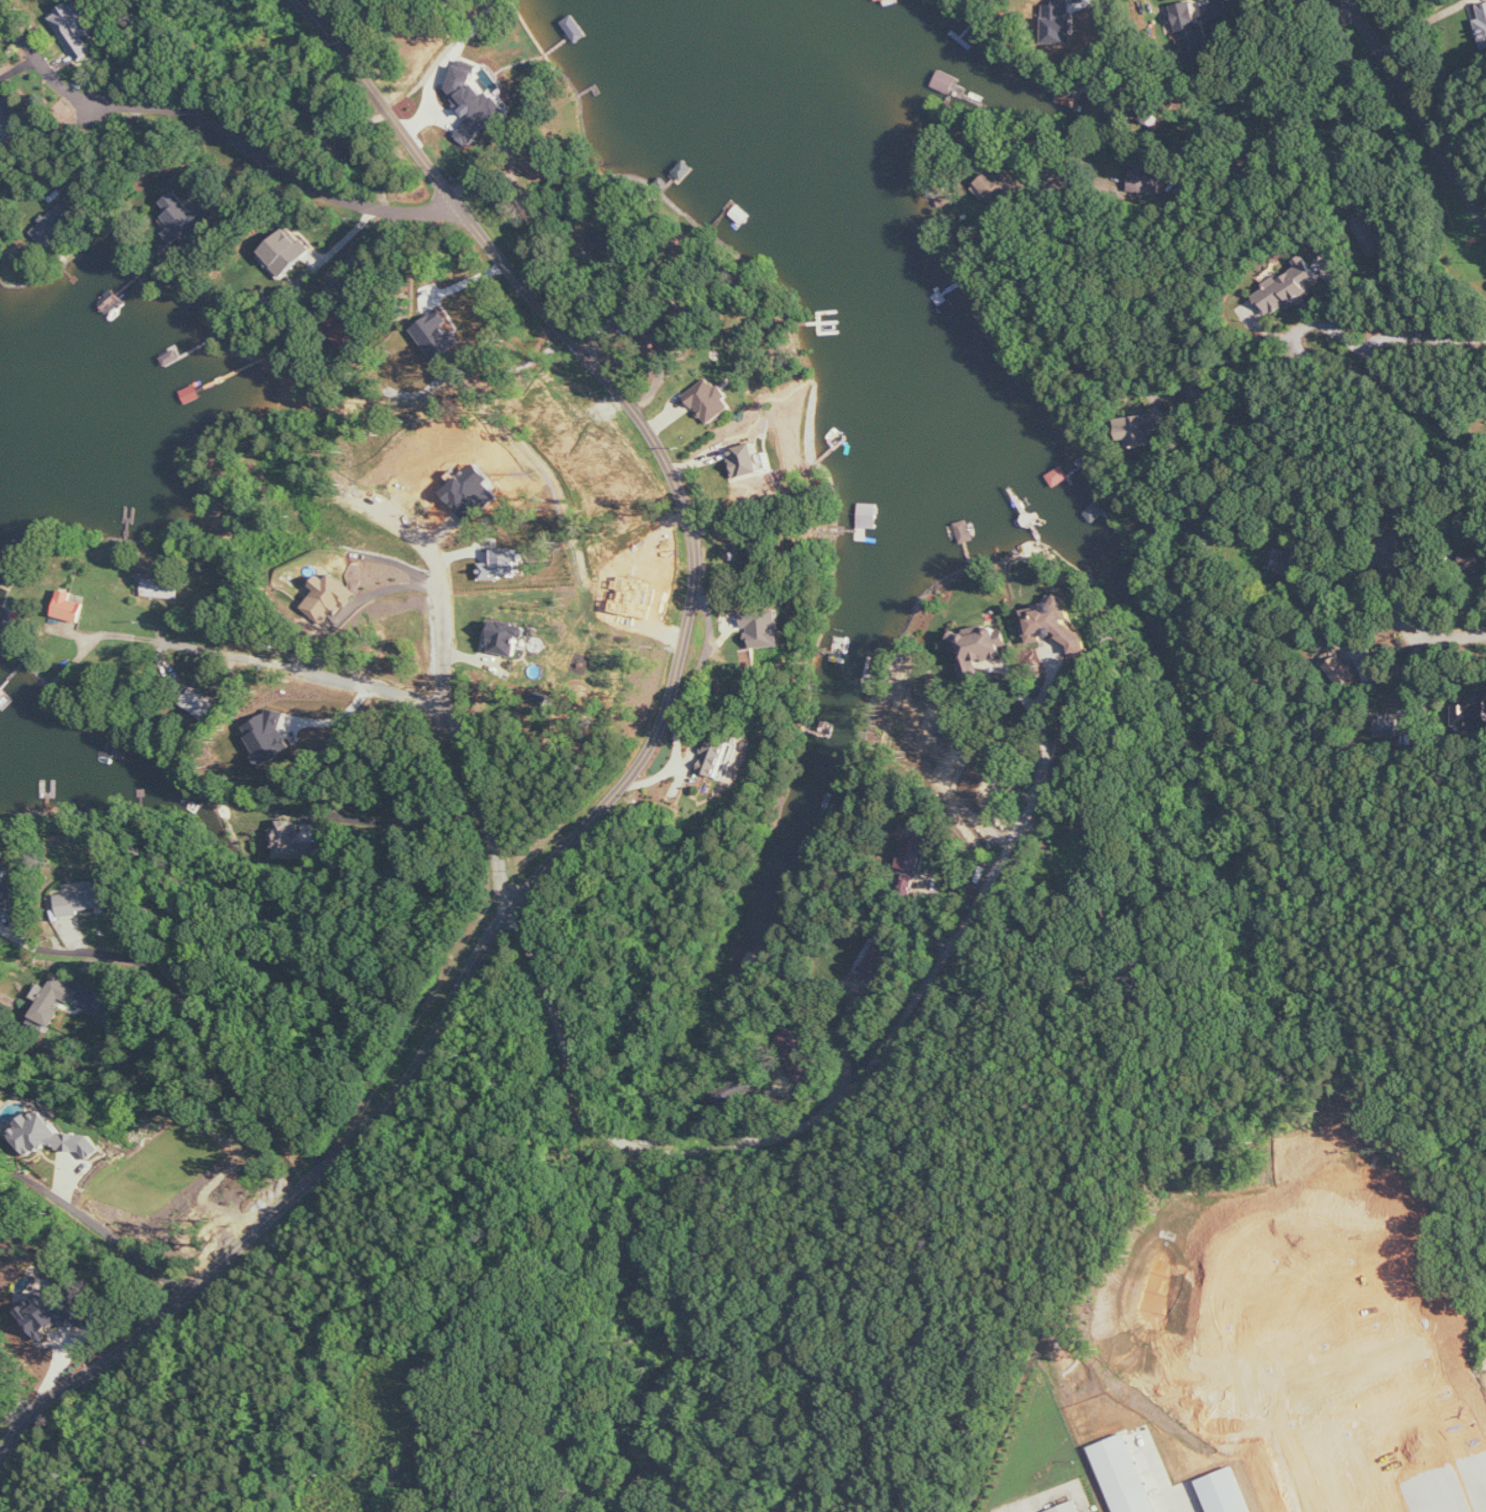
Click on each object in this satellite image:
road: (1222, 1)
road: (1422, 24)
building: (1482, 25)
building: (76, 27)
building: (1190, 31)
road: (160, 52)
road: (57, 82)
building: (474, 105)
road: (1417, 109)
building: (8, 123)
road: (1342, 142)
road: (109, 150)
road: (278, 168)
road: (1200, 179)
building: (1145, 182)
road: (1104, 189)
building: (187, 218)
building: (58, 220)
building: (1371, 233)
road: (367, 245)
building: (285, 253)
building: (1289, 288)
road: (612, 322)
building: (438, 335)
road: (1403, 335)
building: (344, 336)
road: (665, 353)
building: (710, 401)
building: (1142, 429)
building: (747, 461)
building: (965, 531)
building: (759, 552)
building: (1392, 552)
building: (506, 564)
building: (1289, 565)
building: (160, 588)
road: (390, 590)
road: (441, 594)
building: (328, 596)
road: (1372, 602)
building: (69, 607)
road: (242, 626)
building: (1053, 627)
building: (765, 629)
building: (507, 638)
road: (1453, 638)
building: (978, 651)
building: (1339, 668)
road: (176, 669)
road: (298, 675)
road: (1045, 683)
building: (202, 706)
road: (1029, 707)
building: (1471, 713)
building: (1389, 724)
building: (269, 737)
building: (715, 757)
road: (619, 787)
road: (487, 810)
road: (394, 820)
building: (292, 842)
building: (913, 850)
building: (6, 889)
building: (86, 900)
road: (65, 946)
building: (877, 956)
building: (53, 1002)
building: (168, 1040)
road: (149, 1046)
road: (234, 1047)
building: (797, 1056)
road: (225, 1063)
building: (735, 1090)
road: (803, 1131)
building: (51, 1137)
road: (97, 1223)
building: (1124, 1475)
road: (1158, 1476)
building: (1071, 1507)

